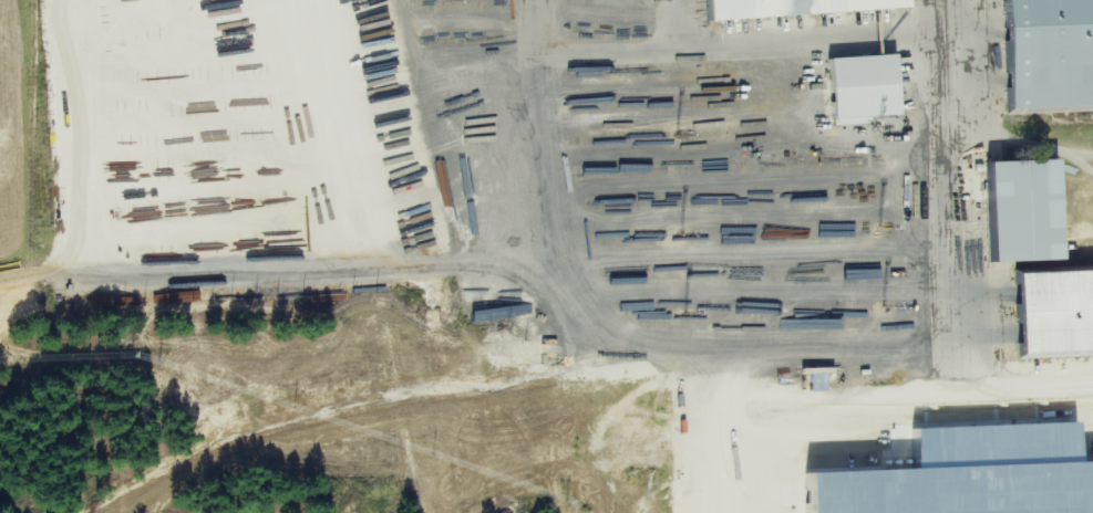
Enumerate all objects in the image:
building: (798, 7)
building: (867, 87)
building: (1030, 210)

